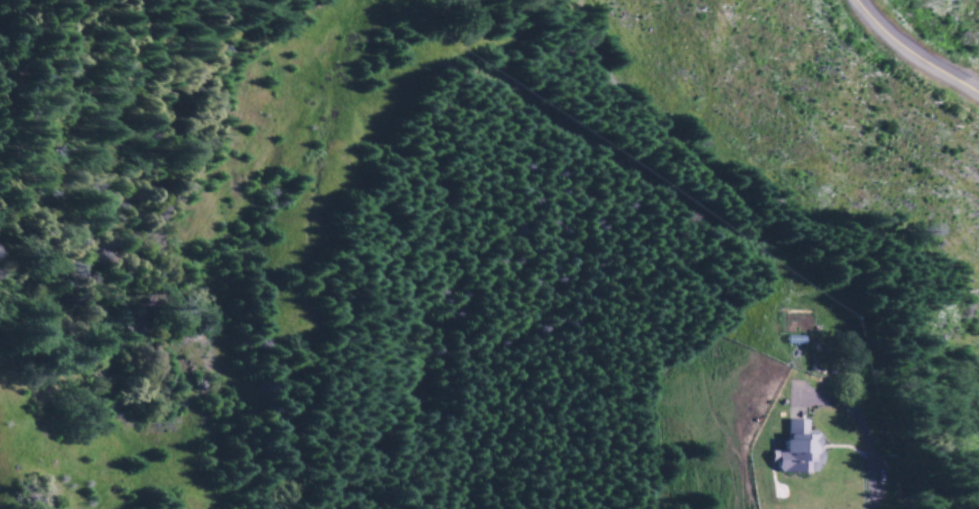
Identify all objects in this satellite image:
road: (914, 56)
building: (797, 450)

